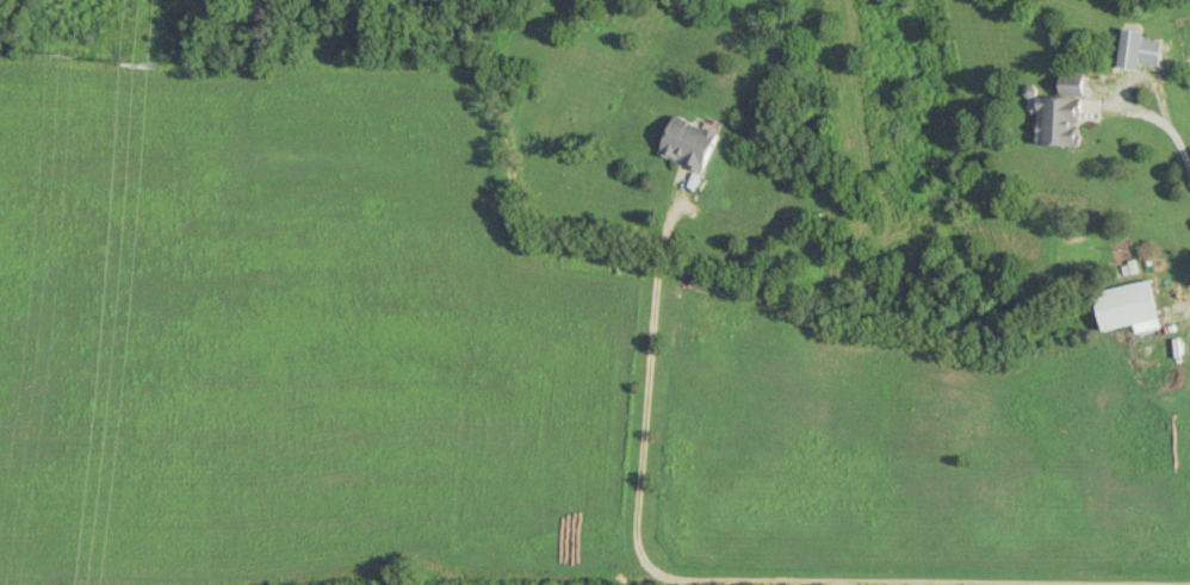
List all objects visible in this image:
building: (1138, 49)
power tower: (76, 52)
power tower: (151, 66)
building: (1059, 116)
road: (1169, 131)
building: (692, 142)
building: (1129, 306)
road: (737, 578)

